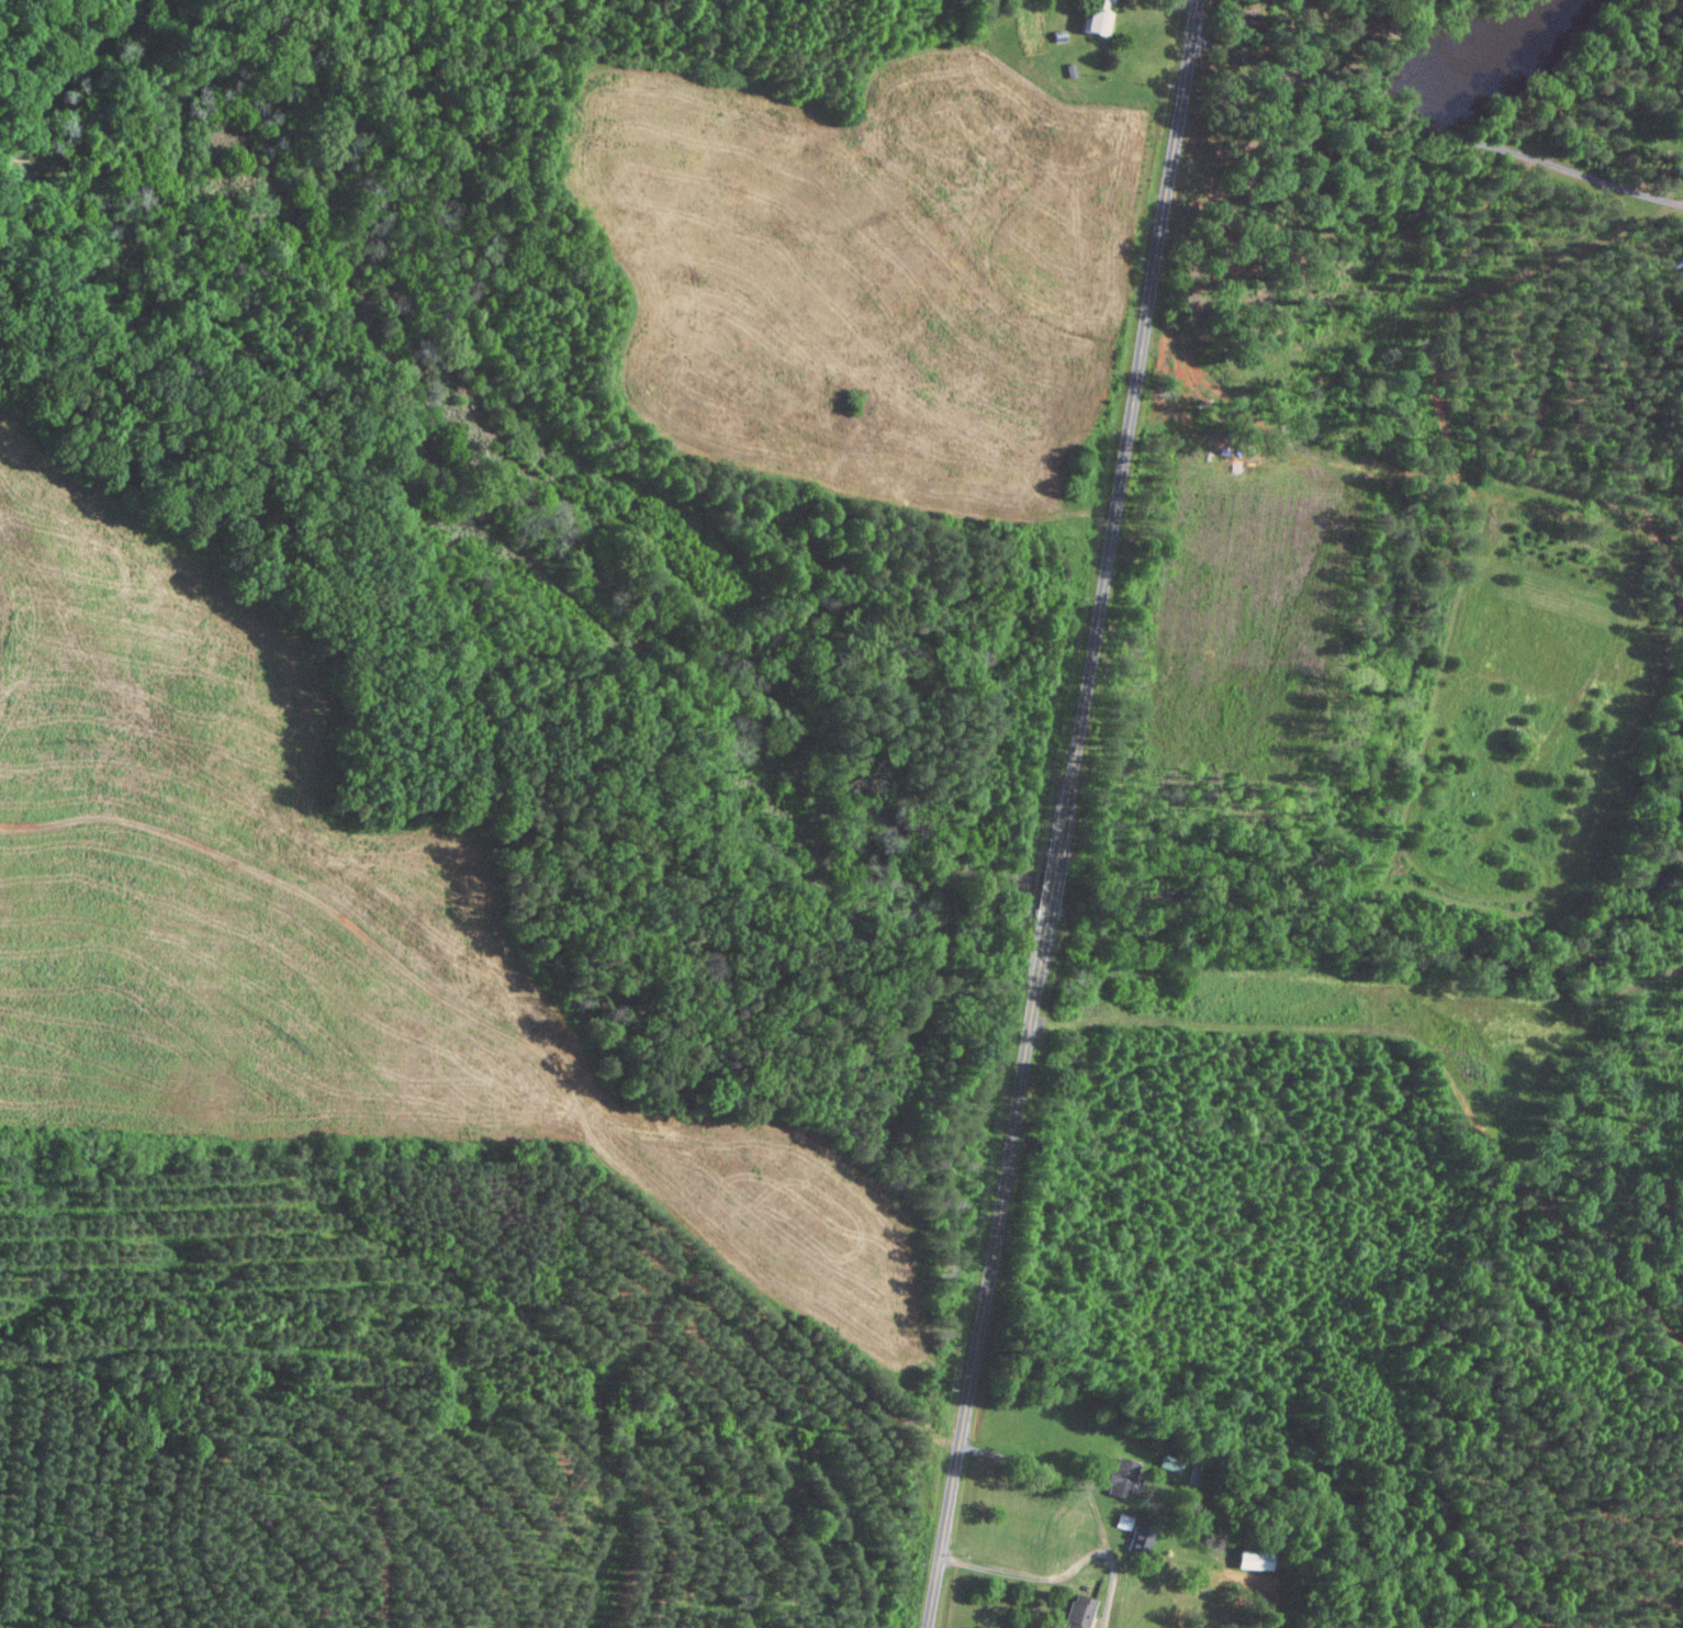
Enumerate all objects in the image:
building: (1098, 18)
road: (1249, 27)
road: (1430, 123)
road: (1057, 813)
road: (1023, 1463)
building: (1117, 1477)
building: (1256, 1560)
road: (1048, 1579)
building: (1076, 1612)

